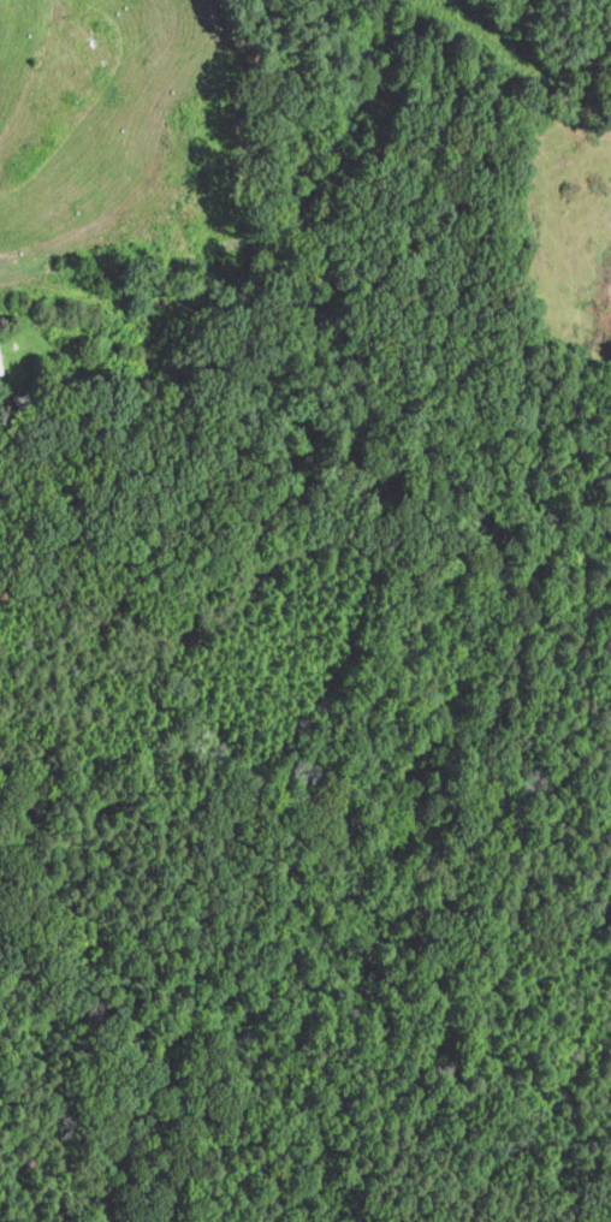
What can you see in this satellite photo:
building: (0, 369)

